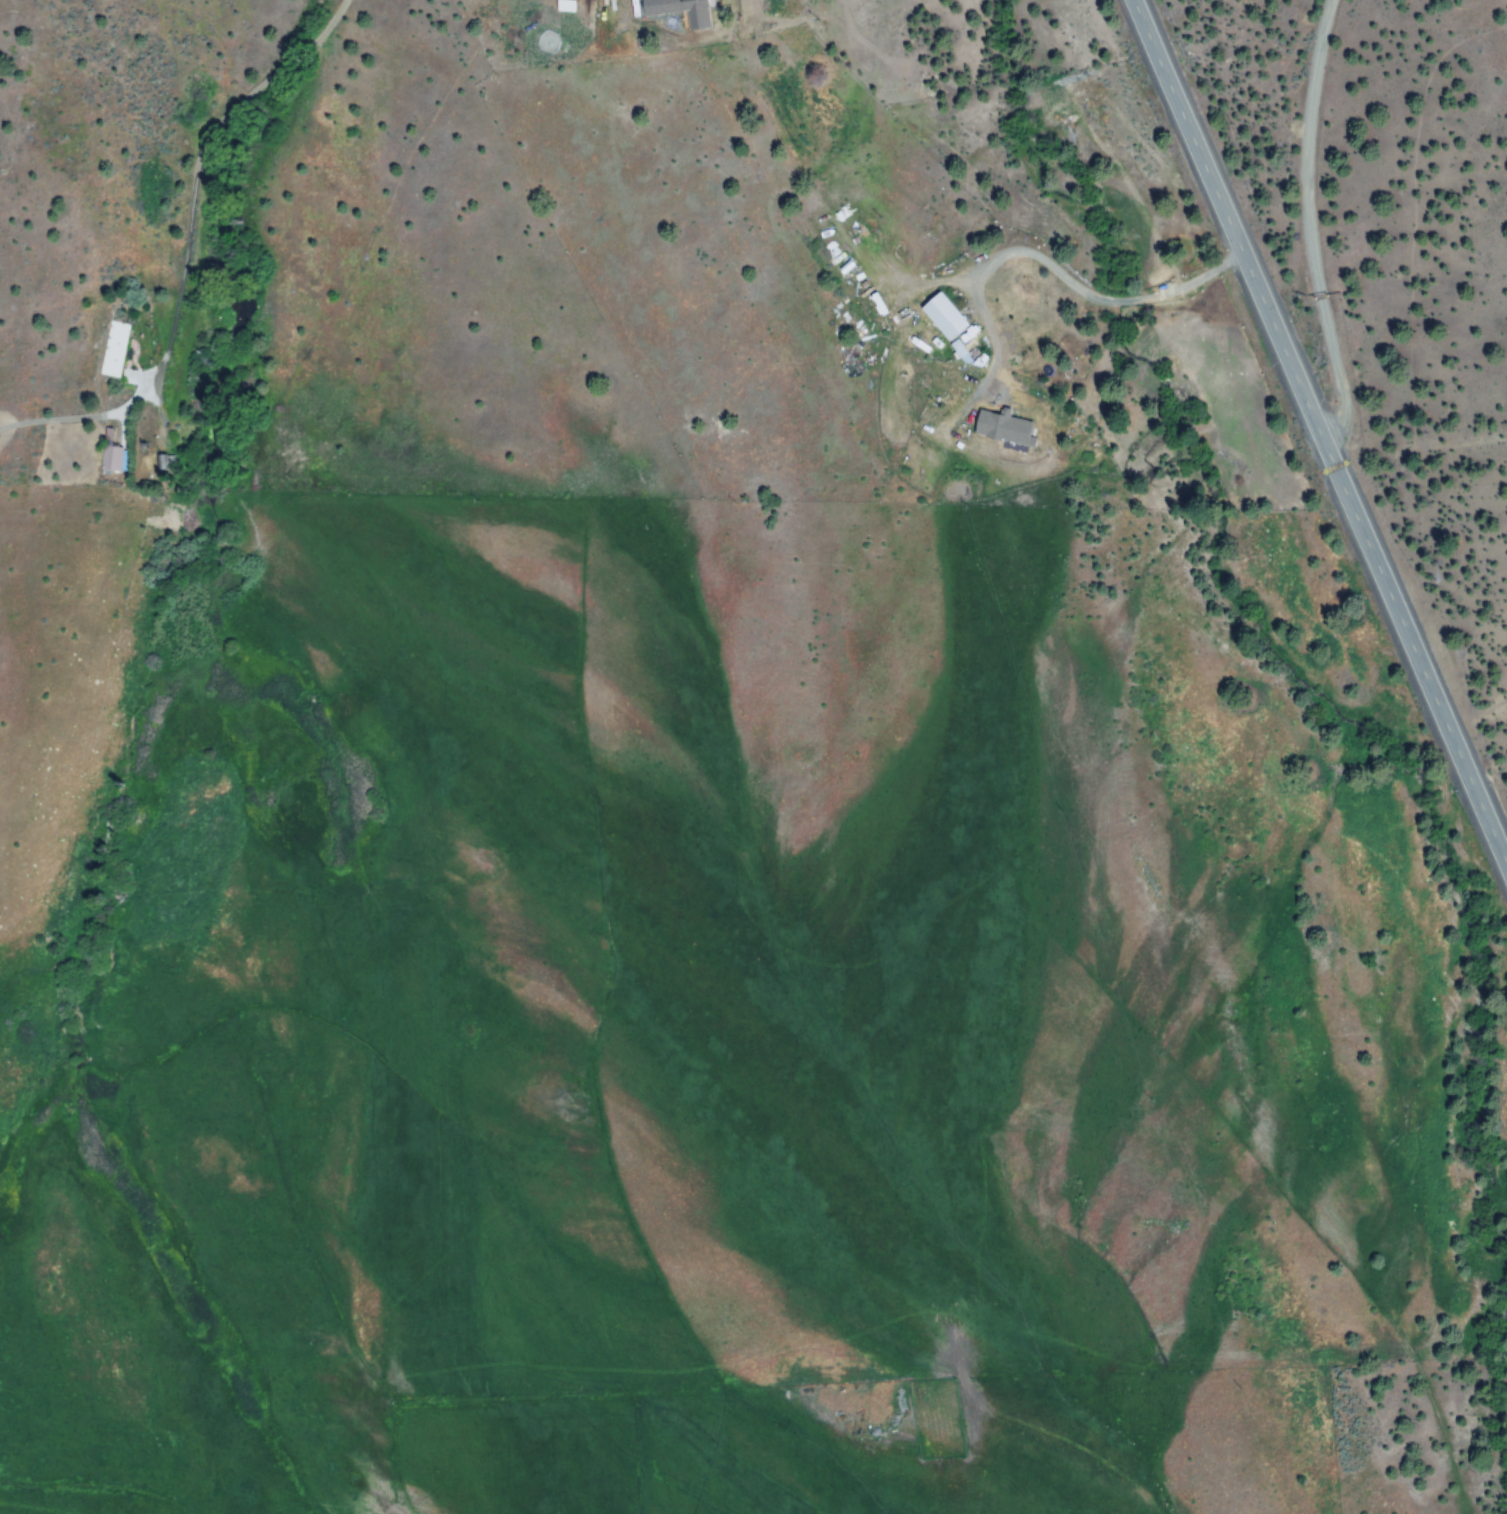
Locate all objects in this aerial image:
building: (684, 5)
road: (321, 31)
building: (112, 352)
road: (1320, 431)
building: (108, 448)
road: (135, 504)

